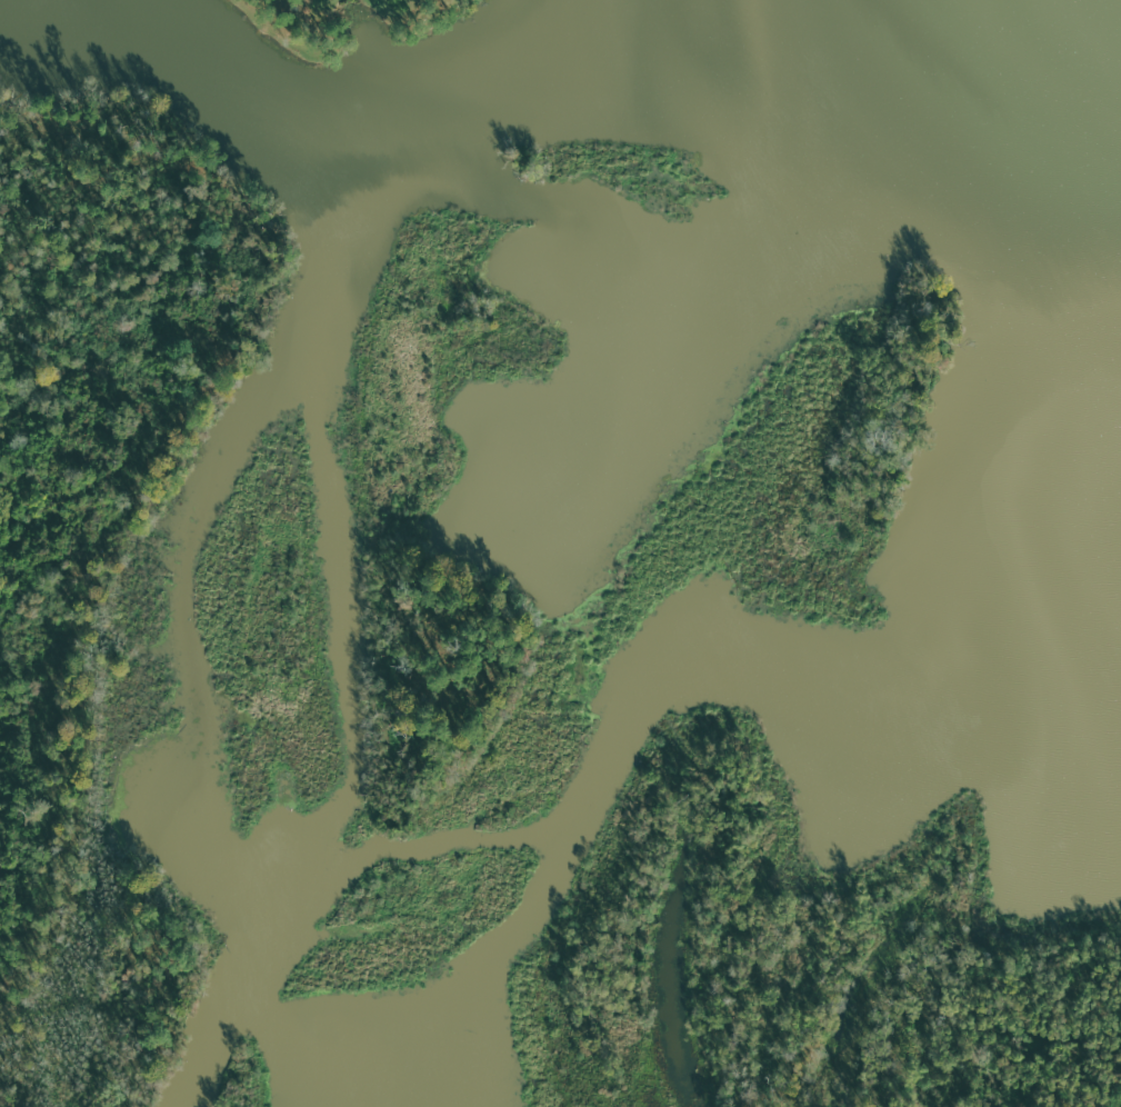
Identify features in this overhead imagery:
park: (346, 61)

